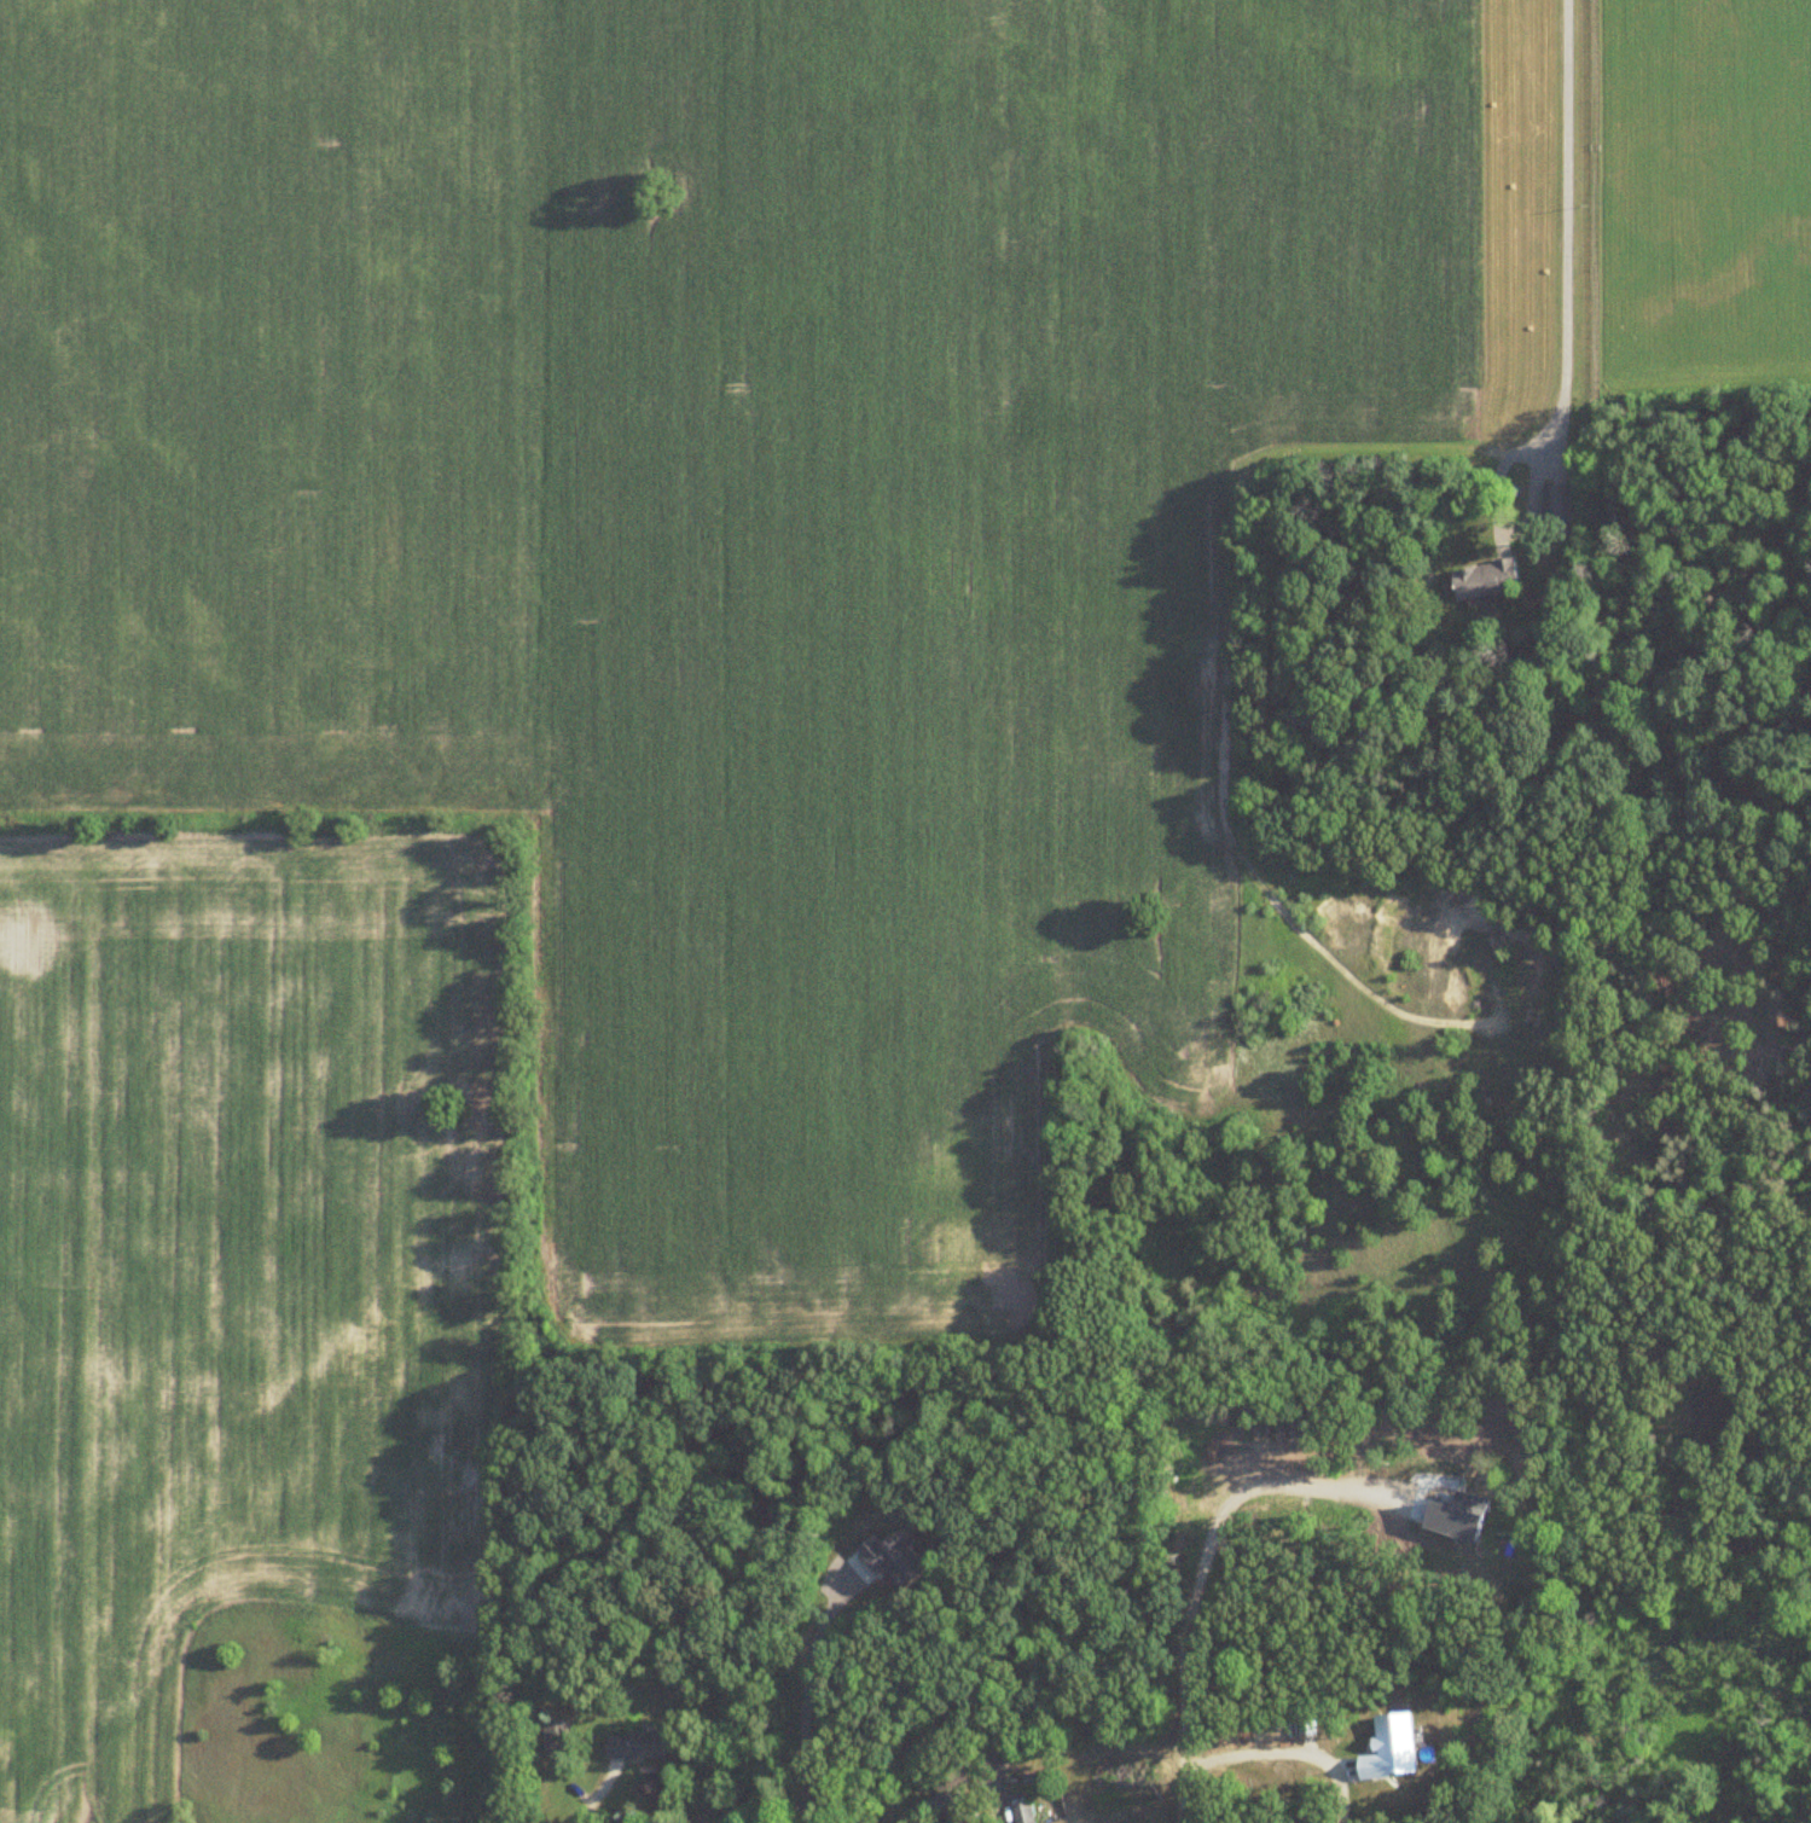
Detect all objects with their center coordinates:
road: (967, 129)
road: (1565, 225)
building: (1561, 510)
building: (1487, 580)
road: (1197, 1556)
road: (801, 1705)
building: (559, 1738)
building: (639, 1747)
road: (1250, 1753)
road: (600, 1794)
road: (993, 1798)
building: (957, 1807)
building: (1023, 1812)
building: (706, 1818)

